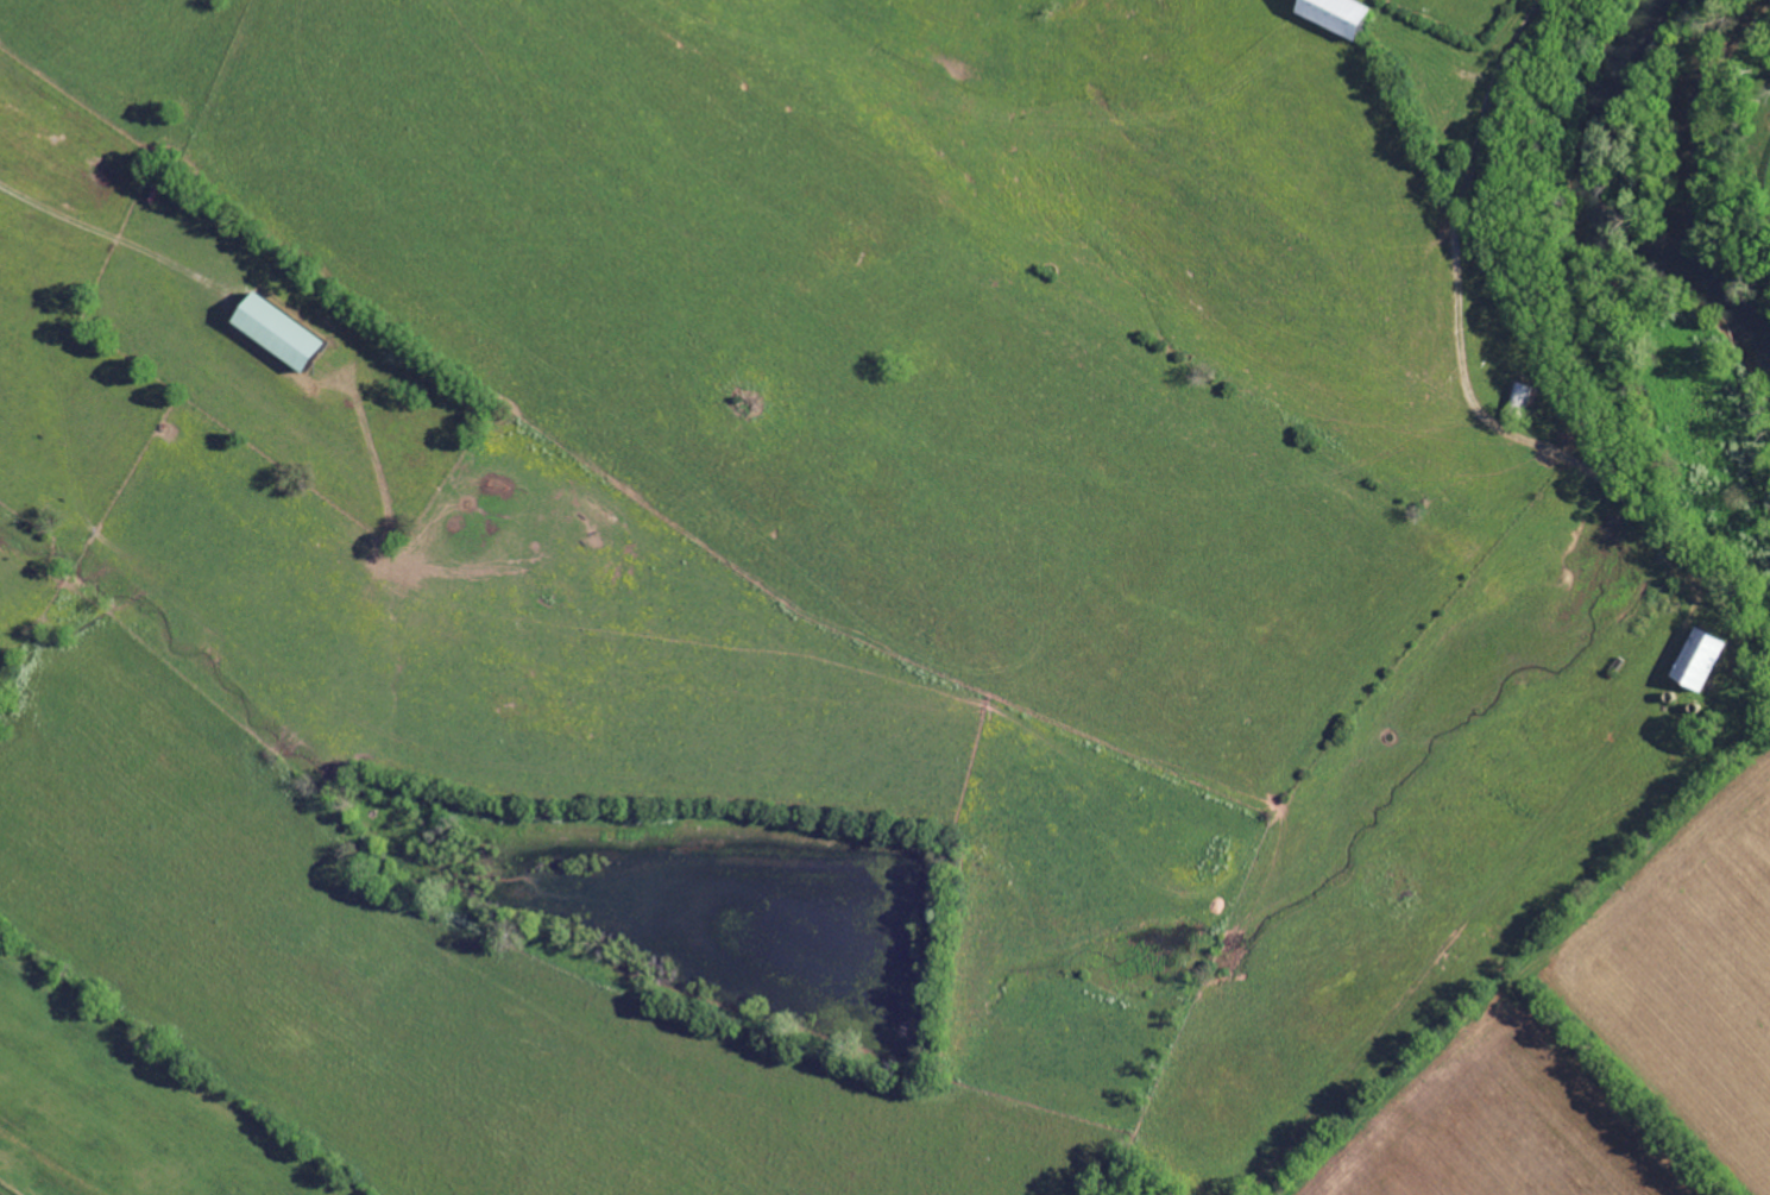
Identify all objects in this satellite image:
building: (1329, 14)
road: (112, 235)
river: (1604, 301)
building: (271, 332)
road: (1461, 352)
building: (1517, 396)
building: (1693, 662)

